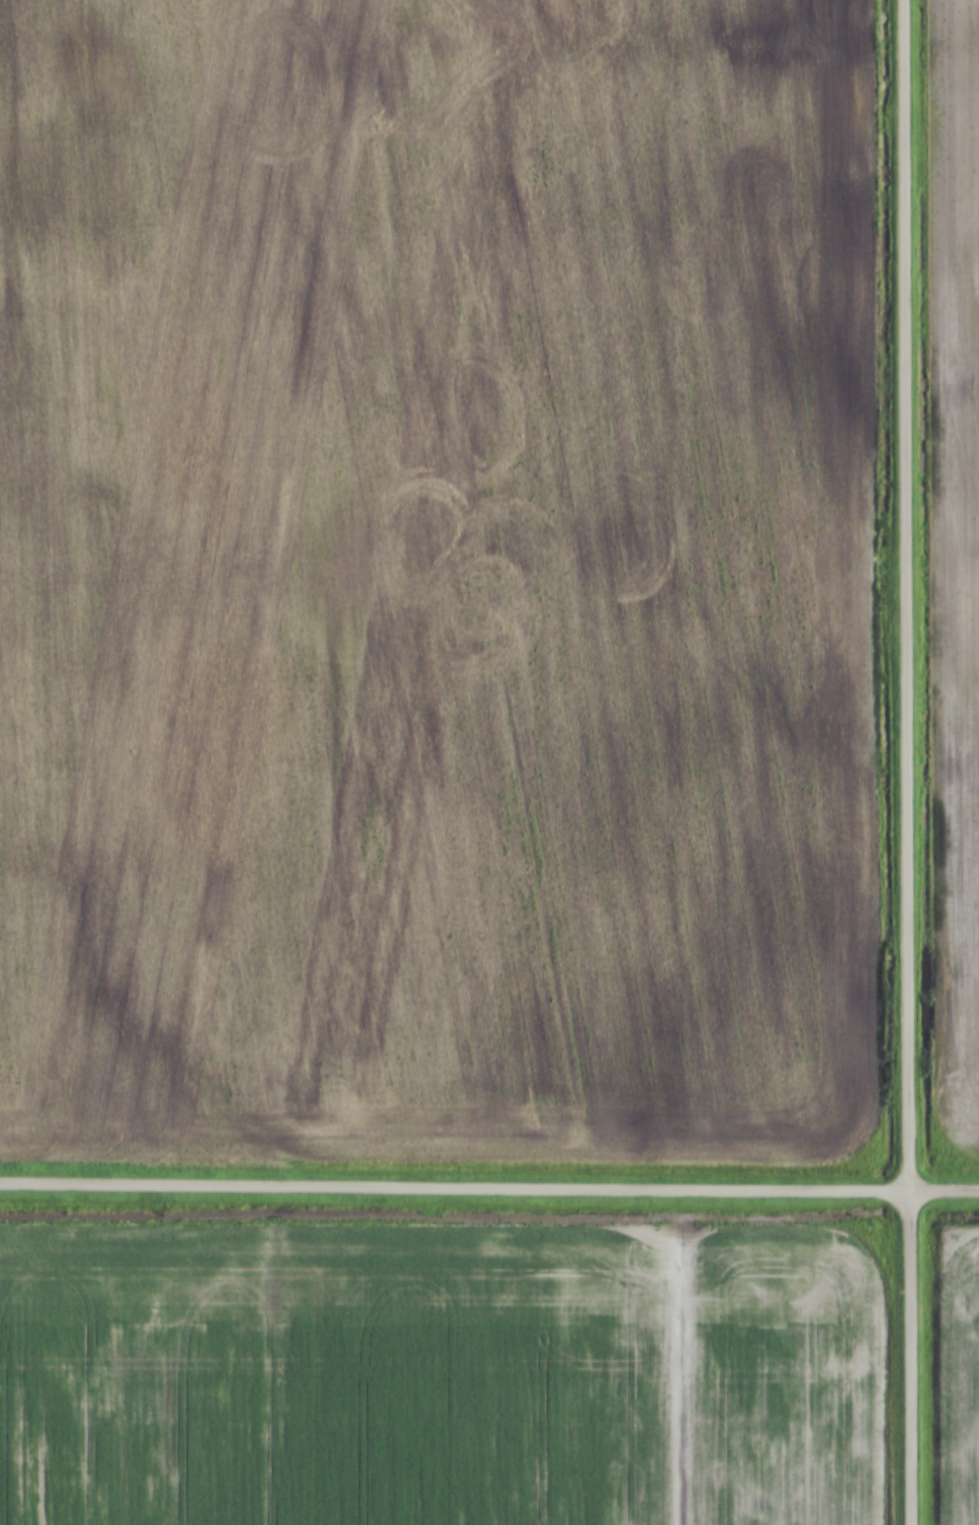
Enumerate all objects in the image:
road: (905, 762)
road: (489, 1187)

